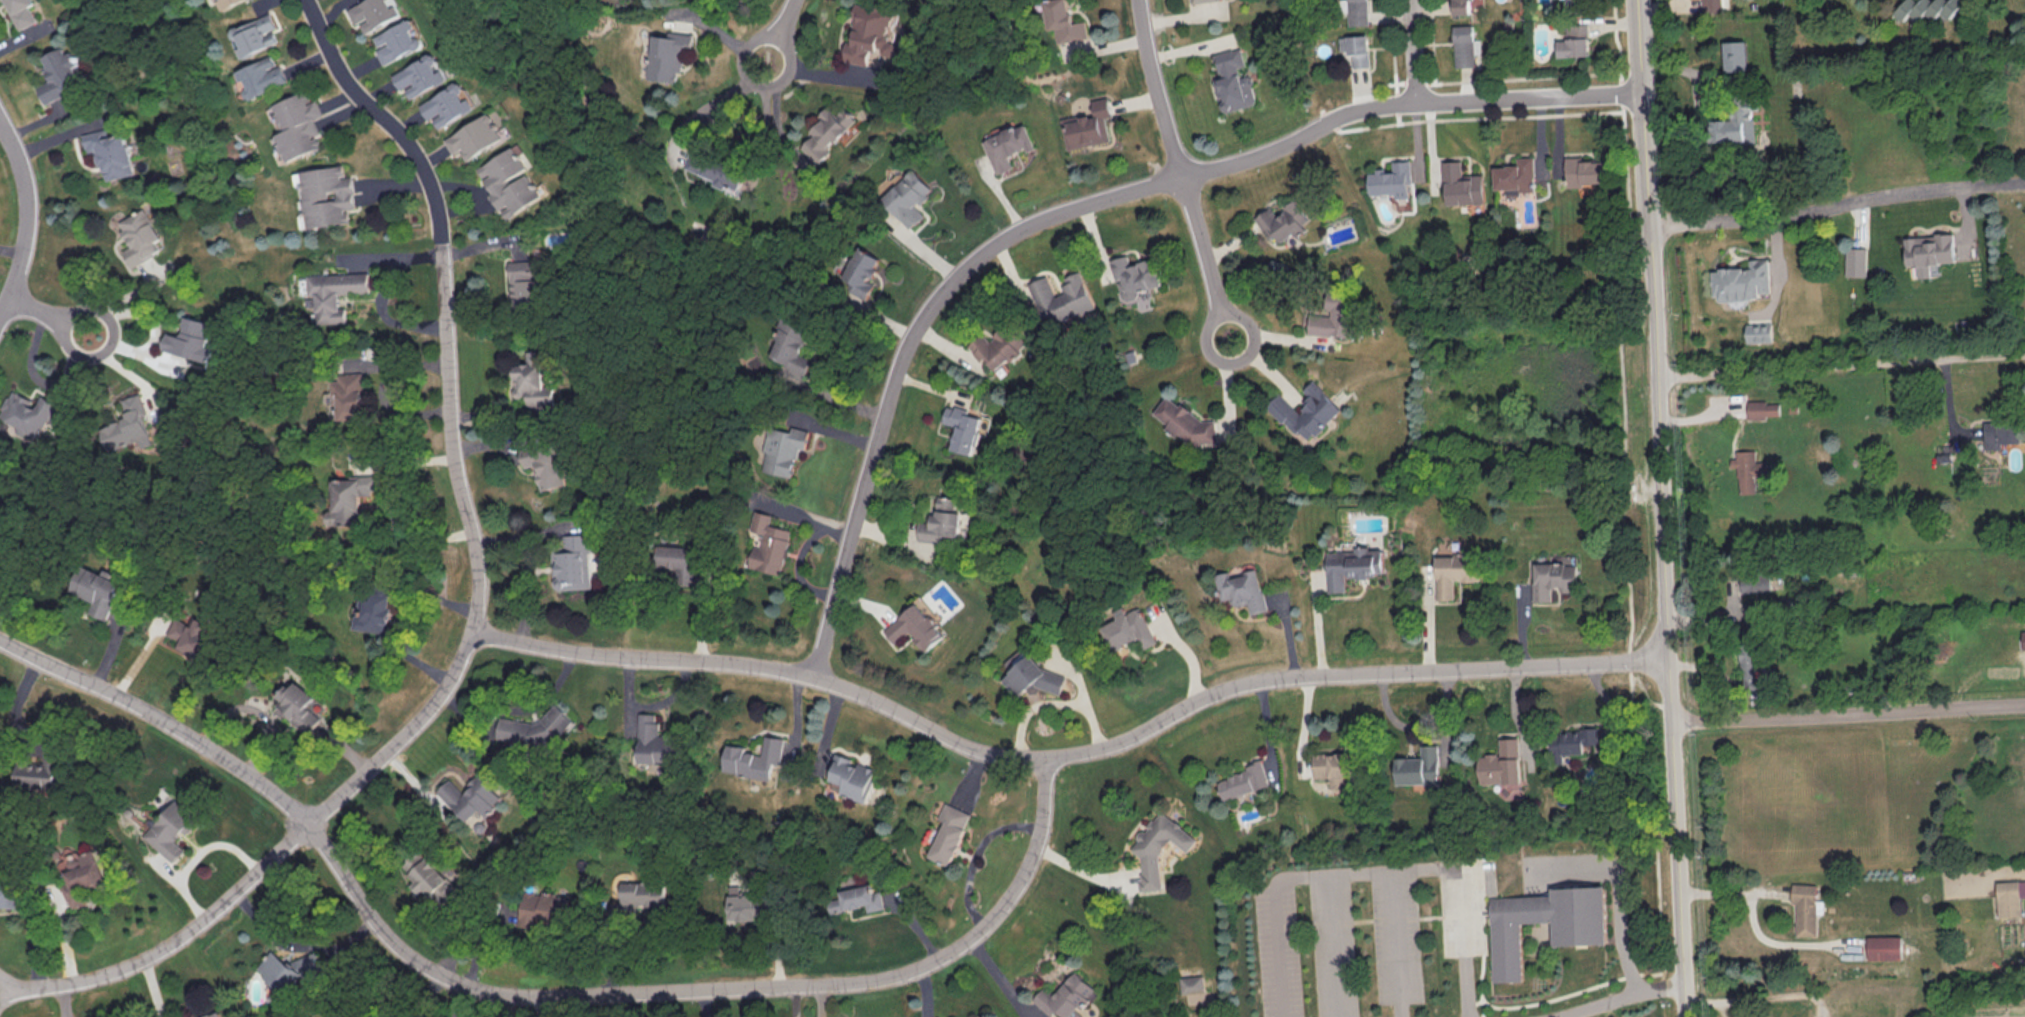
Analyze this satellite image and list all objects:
building: (1575, 2)
building: (225, 3)
building: (1712, 5)
building: (1462, 6)
building: (1926, 8)
building: (20, 12)
building: (1358, 12)
building: (372, 13)
road: (786, 14)
building: (1063, 21)
building: (870, 32)
building: (256, 34)
building: (397, 40)
building: (1575, 40)
building: (1464, 45)
building: (1357, 48)
road: (1413, 51)
building: (667, 54)
building: (1736, 55)
building: (57, 73)
building: (261, 75)
building: (420, 75)
building: (1233, 80)
road: (756, 84)
road: (1157, 88)
road: (1404, 102)
building: (447, 104)
road: (1641, 105)
building: (297, 123)
building: (1088, 125)
building: (1735, 125)
building: (828, 131)
building: (476, 136)
building: (1009, 146)
building: (110, 152)
building: (715, 167)
building: (1586, 170)
building: (1517, 174)
building: (1392, 180)
building: (510, 181)
building: (1463, 184)
road: (1127, 191)
building: (327, 195)
building: (909, 197)
road: (1836, 203)
road: (25, 218)
building: (1282, 220)
building: (139, 236)
road: (1201, 240)
building: (1928, 251)
road: (389, 253)
building: (1855, 261)
building: (863, 271)
building: (1134, 276)
building: (525, 280)
building: (1741, 280)
building: (334, 292)
road: (443, 297)
building: (1062, 297)
road: (384, 309)
road: (34, 310)
building: (1332, 318)
building: (1758, 331)
building: (189, 338)
road: (110, 340)
building: (792, 346)
building: (996, 346)
road: (1240, 362)
road: (1841, 365)
building: (532, 379)
building: (348, 394)
road: (887, 403)
building: (1763, 408)
building: (1305, 410)
building: (29, 411)
building: (1185, 422)
building: (129, 426)
building: (963, 427)
building: (2002, 432)
building: (783, 448)
building: (544, 462)
building: (1748, 469)
building: (346, 502)
building: (941, 520)
building: (770, 543)
building: (573, 561)
building: (679, 561)
building: (1352, 565)
building: (1454, 571)
building: (1755, 580)
building: (96, 589)
building: (1242, 589)
building: (377, 612)
road: (402, 612)
road: (1665, 613)
building: (916, 626)
building: (1129, 628)
building: (194, 635)
building: (2023, 638)
road: (640, 657)
building: (1748, 659)
road: (1345, 672)
building: (1032, 676)
building: (299, 705)
road: (1849, 714)
road: (160, 719)
road: (1519, 721)
road: (924, 723)
road: (1414, 725)
building: (536, 728)
road: (1268, 732)
road: (400, 739)
building: (653, 741)
building: (1573, 741)
building: (754, 757)
building: (1501, 763)
building: (1419, 766)
building: (1333, 768)
building: (39, 774)
building: (853, 777)
building: (1243, 780)
building: (472, 796)
building: (169, 828)
building: (951, 832)
building: (1159, 847)
road: (1081, 870)
road: (1369, 870)
building: (85, 877)
building: (434, 881)
road: (1620, 891)
building: (10, 892)
building: (641, 893)
road: (1741, 893)
building: (2009, 896)
building: (858, 898)
building: (741, 904)
building: (543, 907)
building: (1805, 907)
building: (1580, 934)
road: (174, 936)
road: (296, 940)
building: (1884, 946)
building: (290, 968)
building: (1192, 983)
road: (11, 987)
road: (706, 988)
building: (1066, 996)
road: (1761, 998)
road: (1608, 999)
road: (542, 1006)
building: (215, 1014)
building: (193, 1016)

